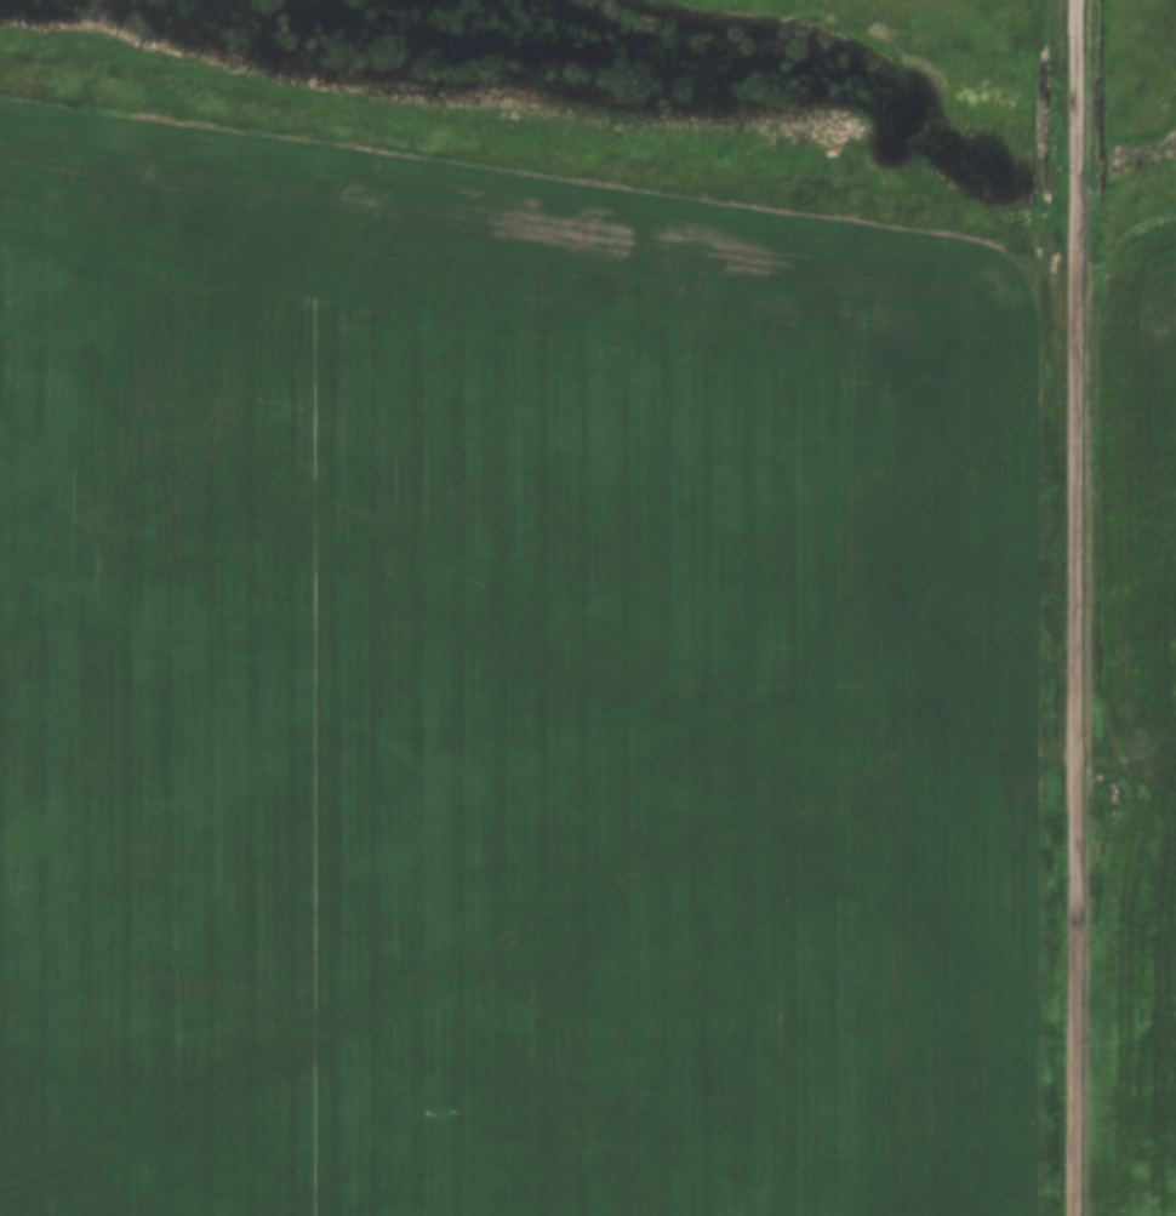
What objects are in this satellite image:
road: (1073, 607)

